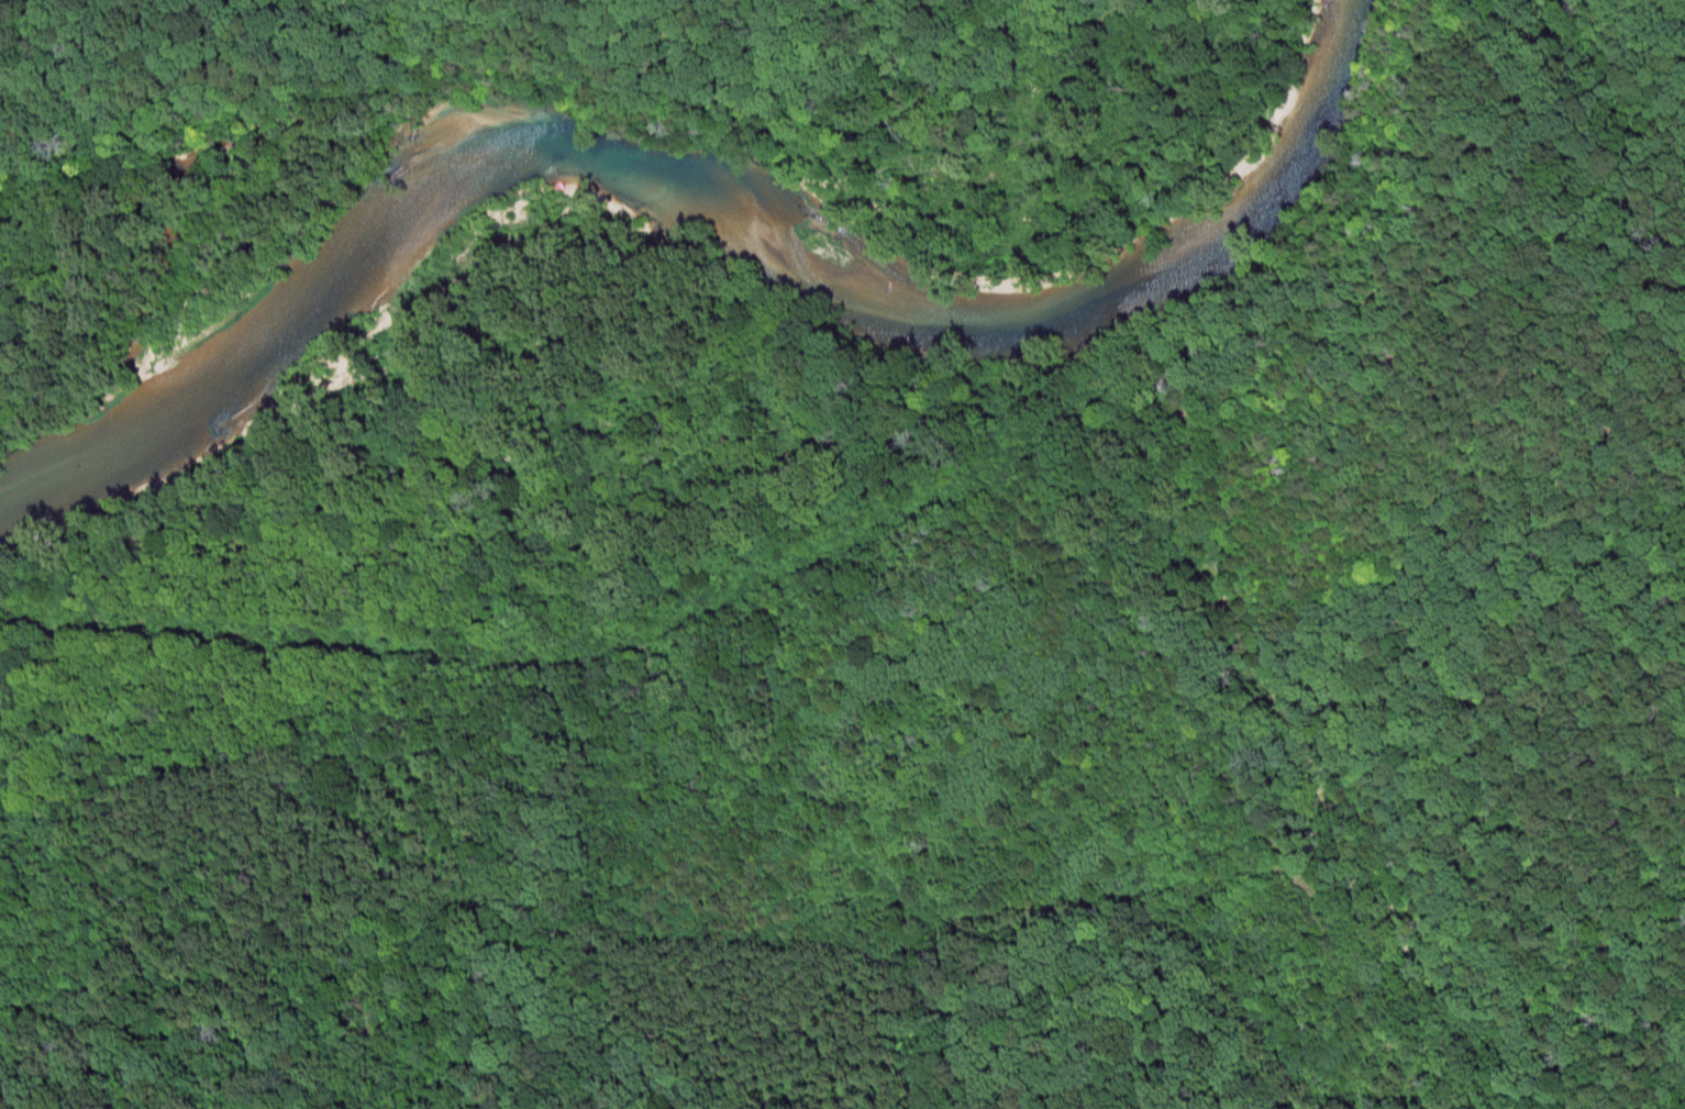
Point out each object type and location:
river: (707, 226)
road: (1226, 490)
road: (755, 799)

